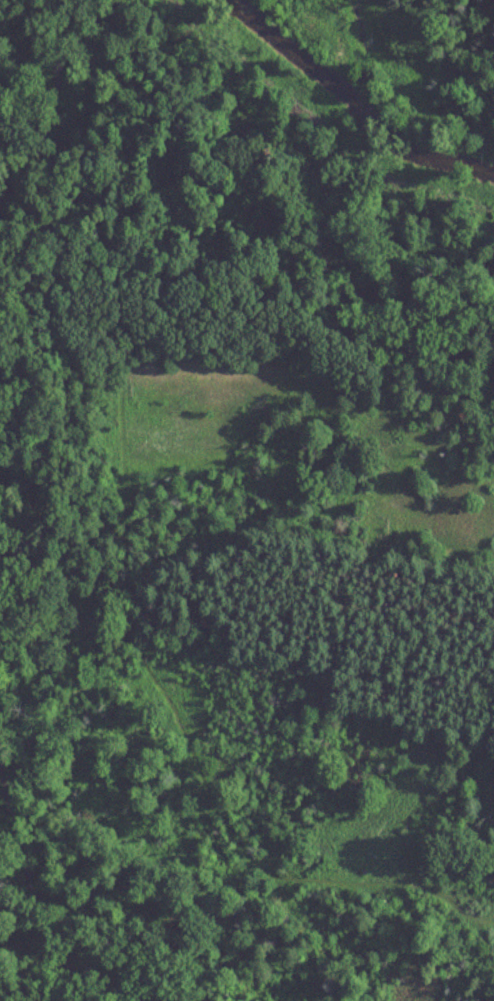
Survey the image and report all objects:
river: (357, 96)

